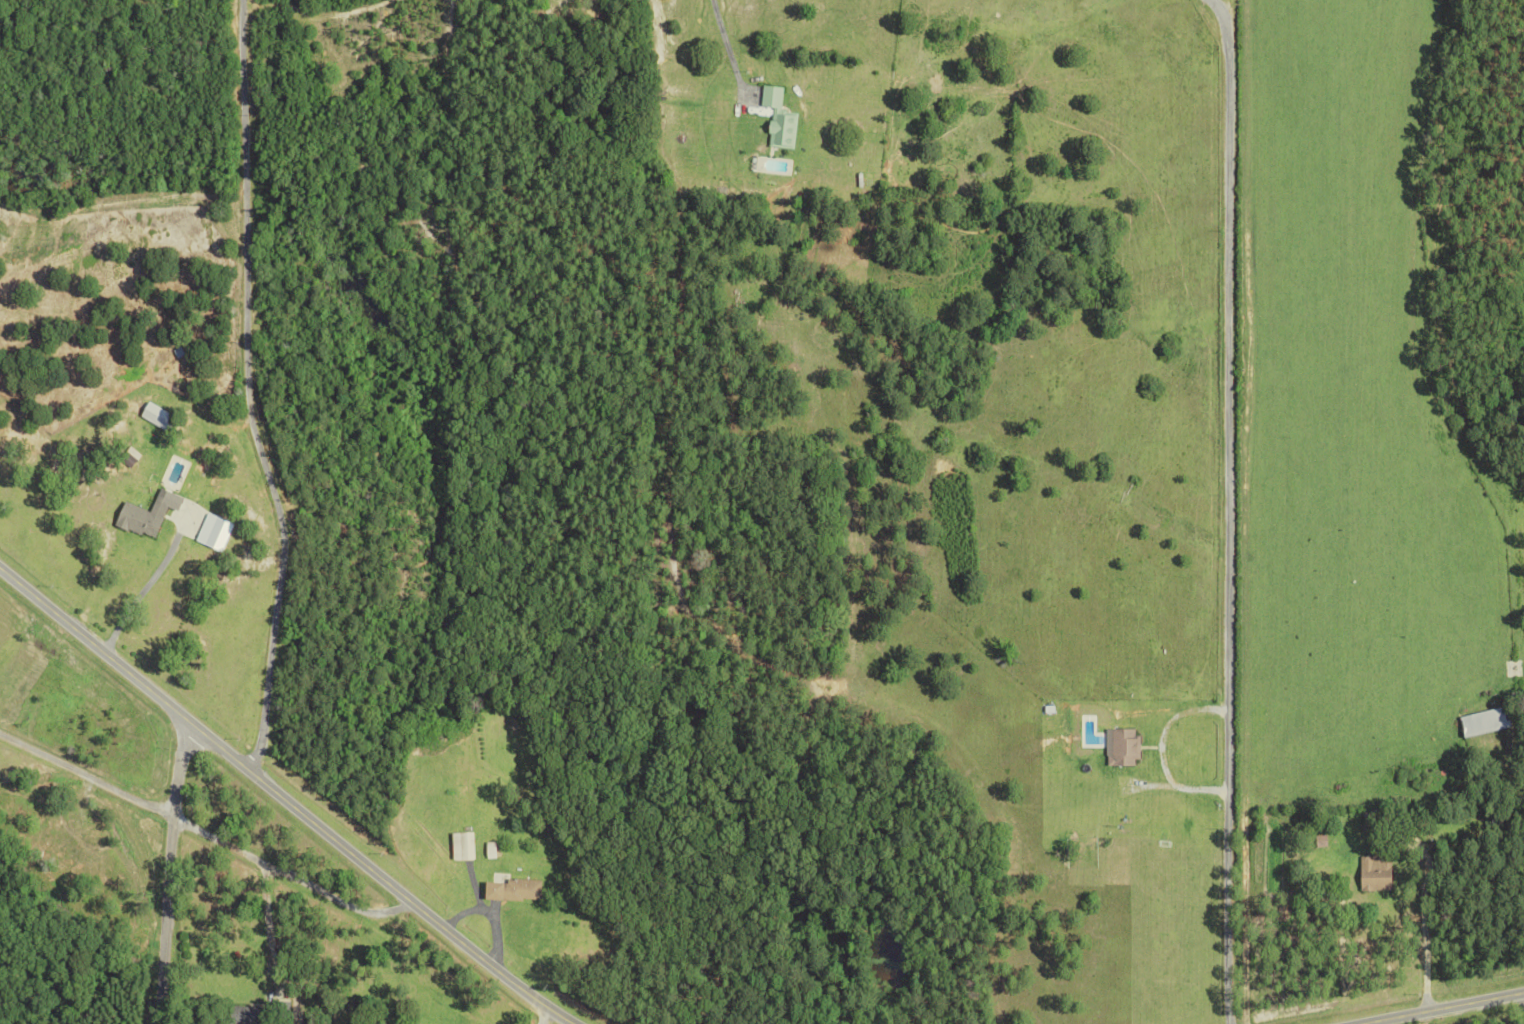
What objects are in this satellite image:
road: (721, 44)
building: (780, 118)
road: (241, 389)
building: (157, 416)
road: (1221, 510)
building: (148, 514)
building: (189, 520)
building: (214, 532)
road: (135, 584)
building: (1486, 720)
road: (1153, 745)
building: (1124, 747)
road: (82, 780)
road: (278, 801)
building: (462, 845)
building: (1377, 872)
road: (160, 875)
road: (282, 875)
building: (514, 889)
road: (261, 918)
road: (1425, 939)
road: (1446, 1011)
road: (532, 1015)

